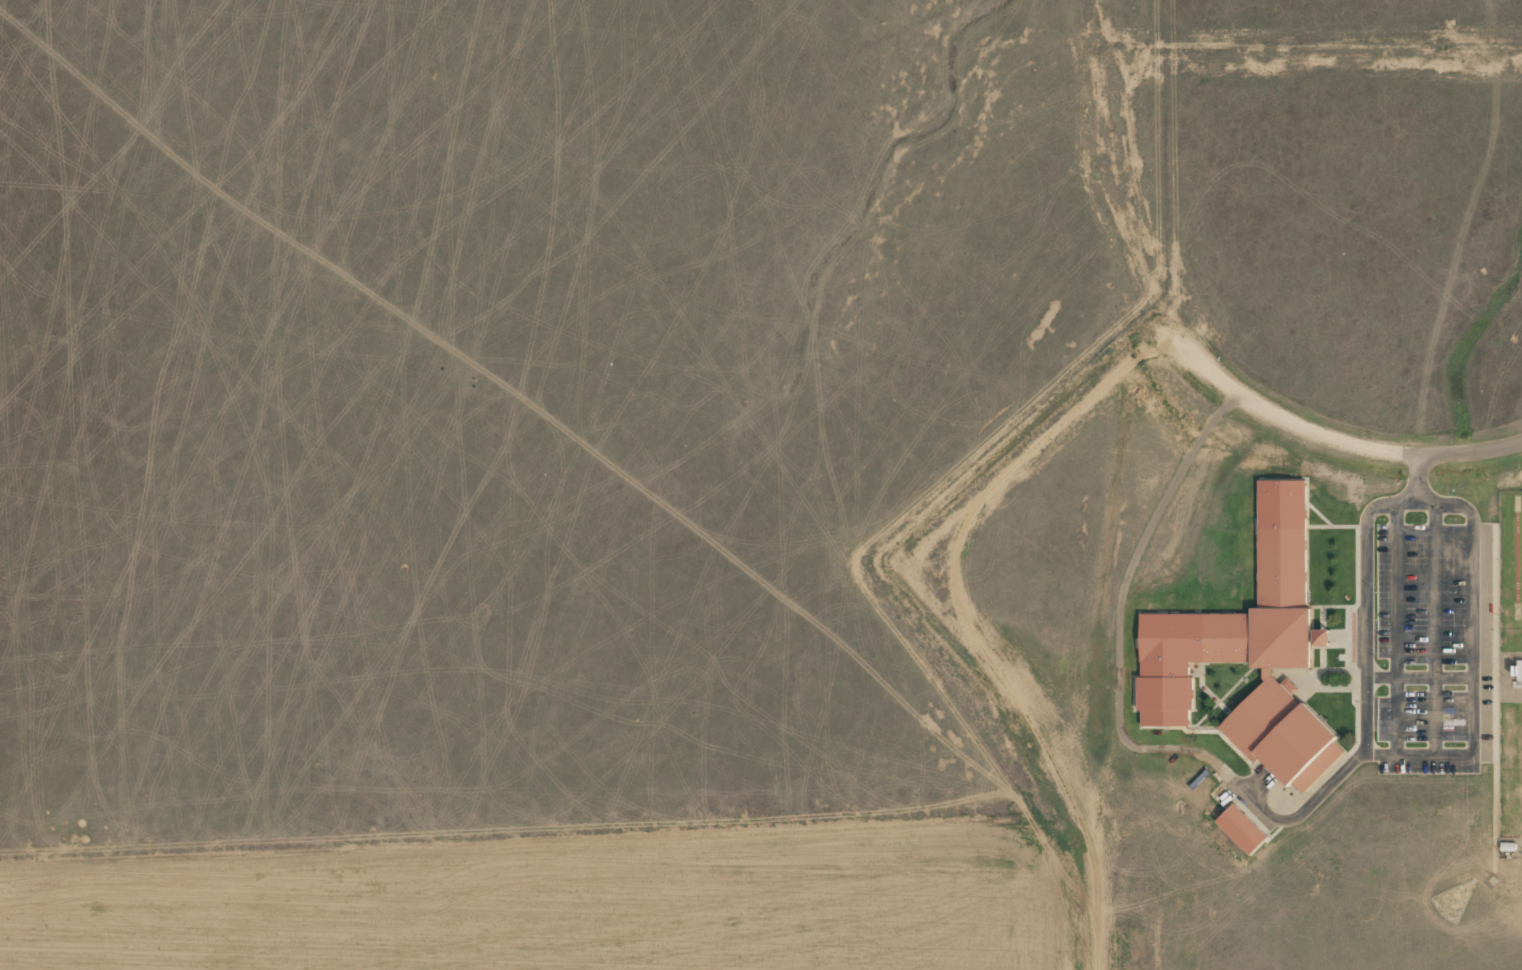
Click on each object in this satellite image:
road: (1280, 416)
road: (1470, 452)
road: (1418, 469)
road: (1409, 494)
road: (1423, 494)
park: (1516, 557)
road: (1119, 602)
road: (1395, 628)
road: (1434, 629)
parking lot: (1418, 635)
building: (1322, 637)
building: (1250, 650)
building: (1513, 670)
road: (1484, 676)
building: (1518, 676)
road: (1419, 677)
road: (1495, 697)
road: (1444, 755)
road: (1297, 815)
building: (1242, 829)
track: (1492, 880)
park: (1453, 900)

